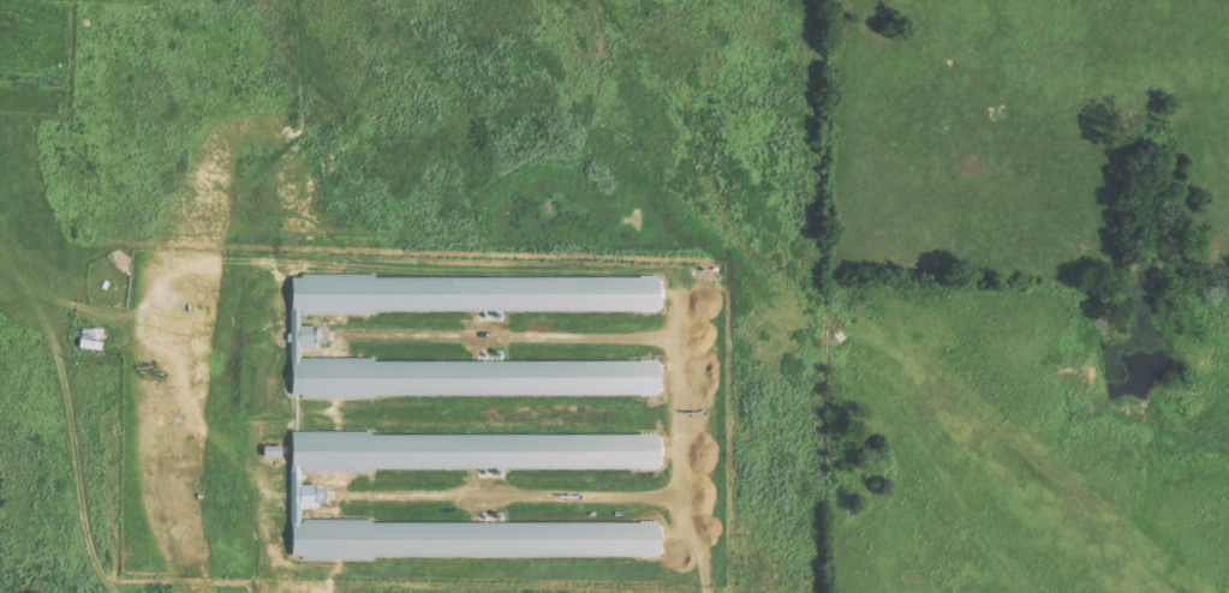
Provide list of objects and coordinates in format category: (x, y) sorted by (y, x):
building: (311, 340)
building: (306, 491)

